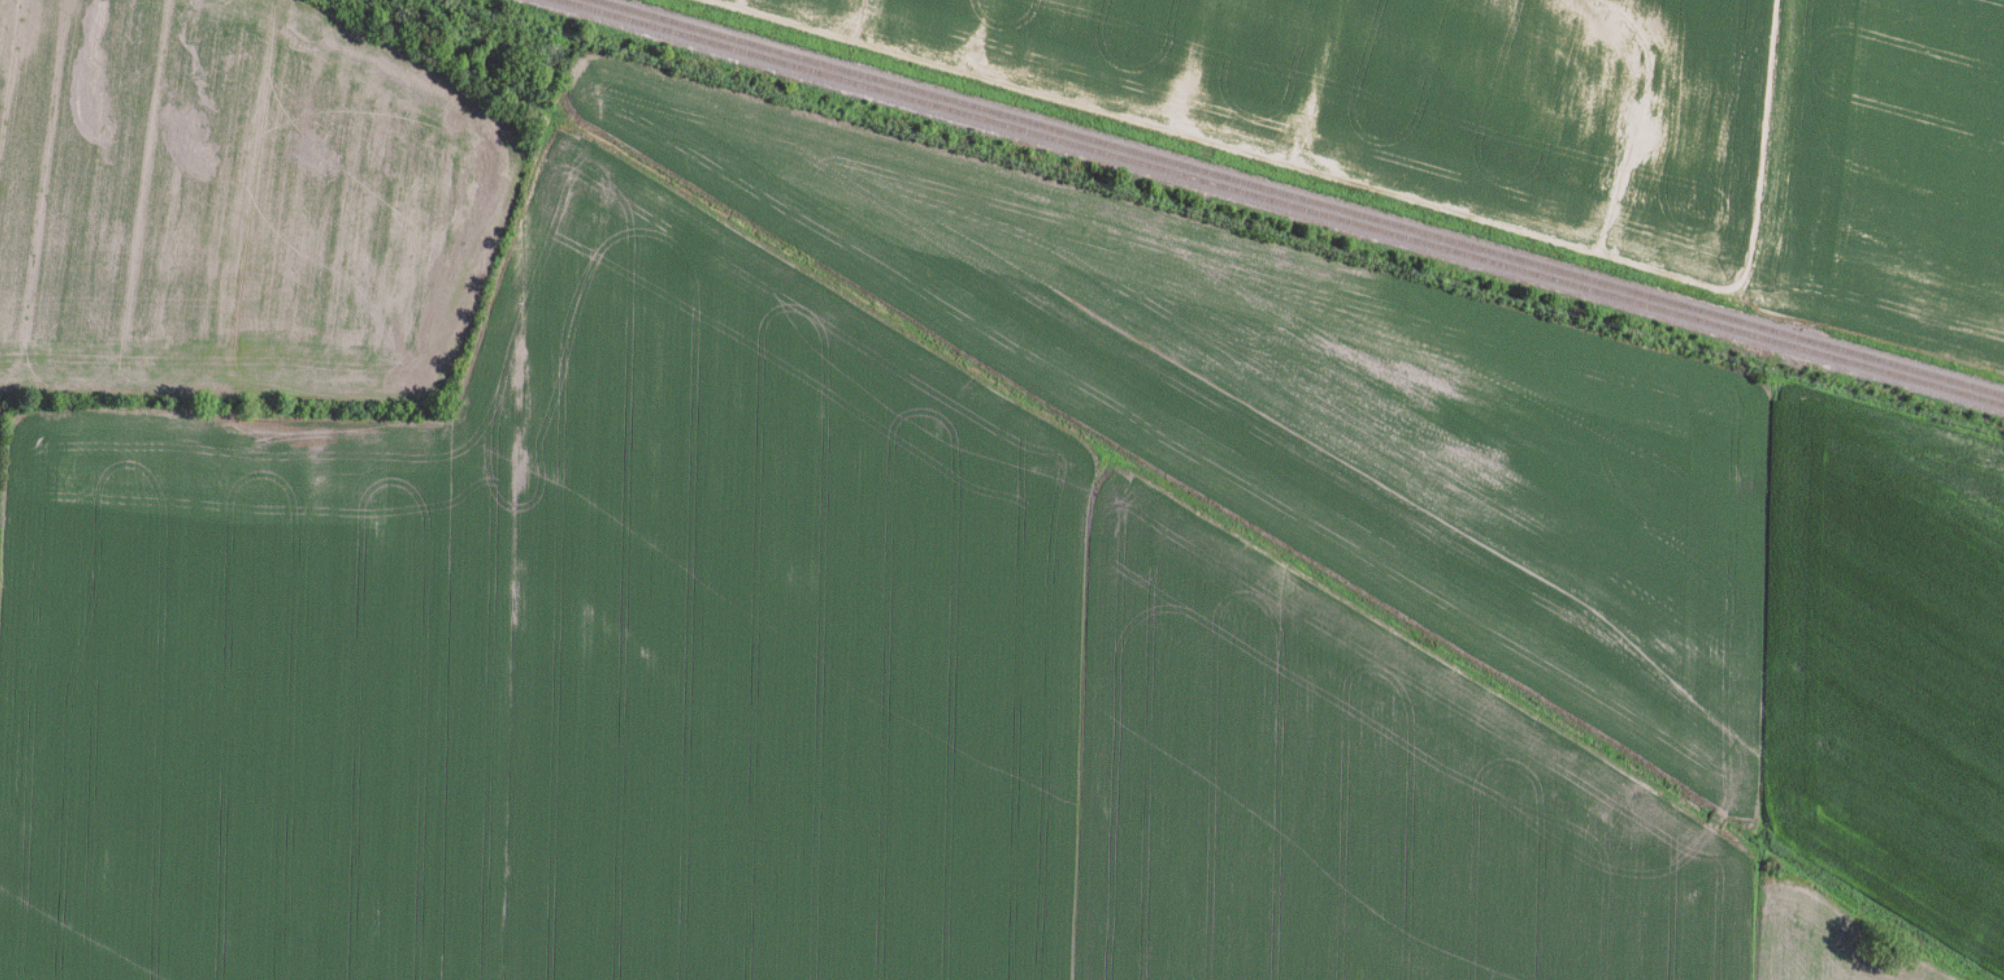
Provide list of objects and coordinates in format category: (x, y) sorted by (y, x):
railway: (1295, 198)
railway: (1279, 203)

